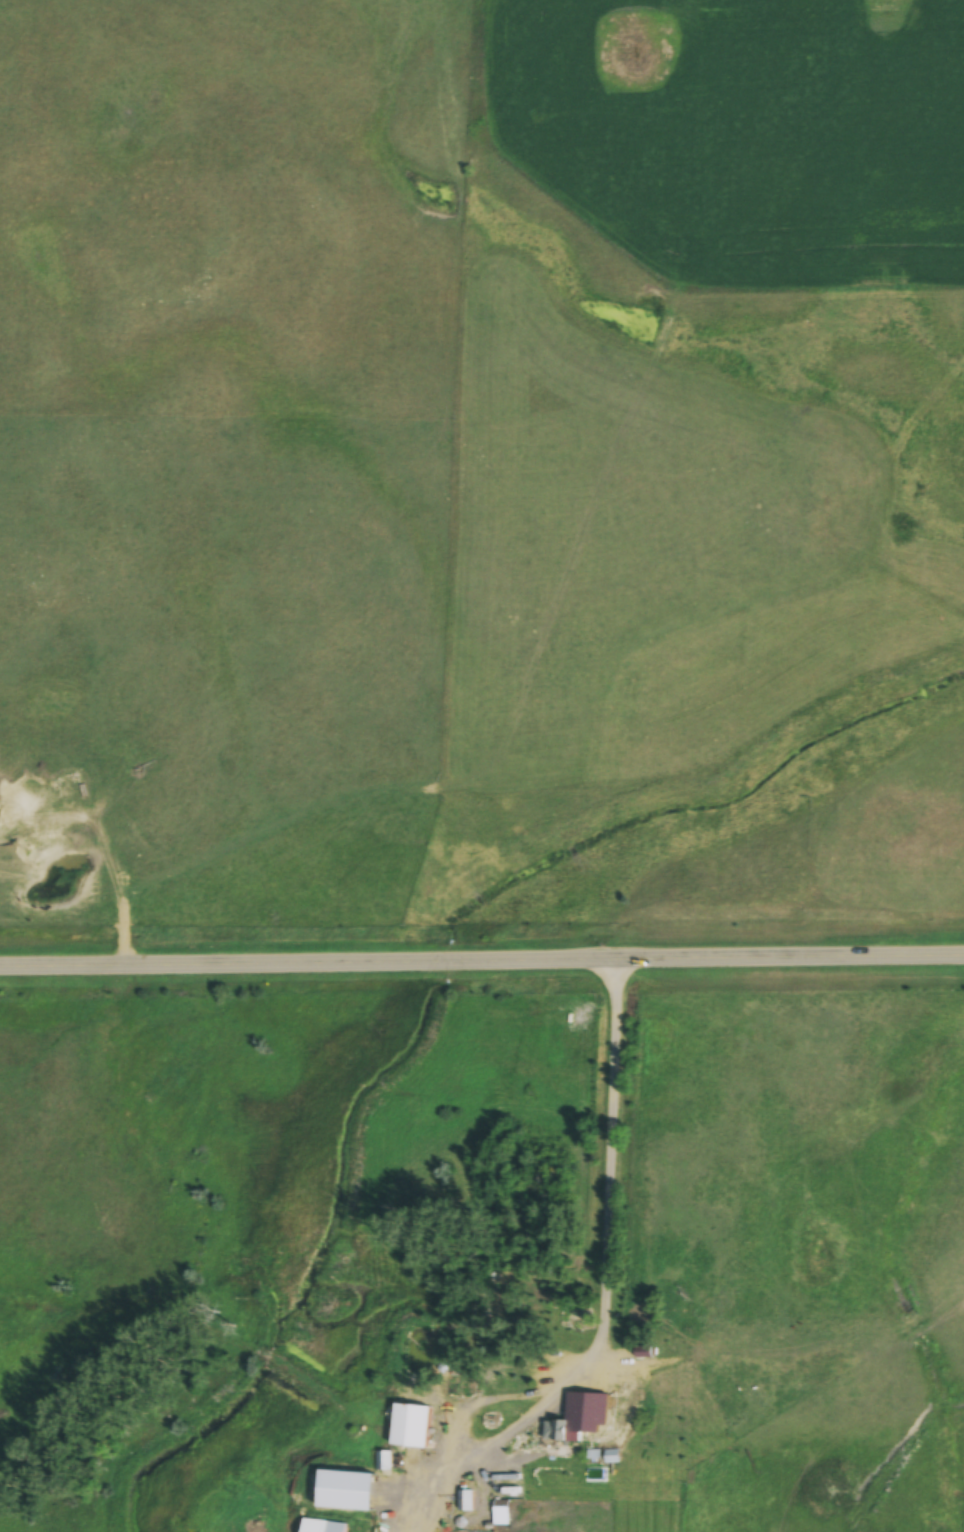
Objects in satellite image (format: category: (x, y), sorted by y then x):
road: (481, 957)
road: (609, 1183)
building: (543, 1376)
building: (410, 1427)
building: (562, 1430)
building: (467, 1503)
building: (502, 1512)
building: (322, 1527)
building: (384, 1530)

